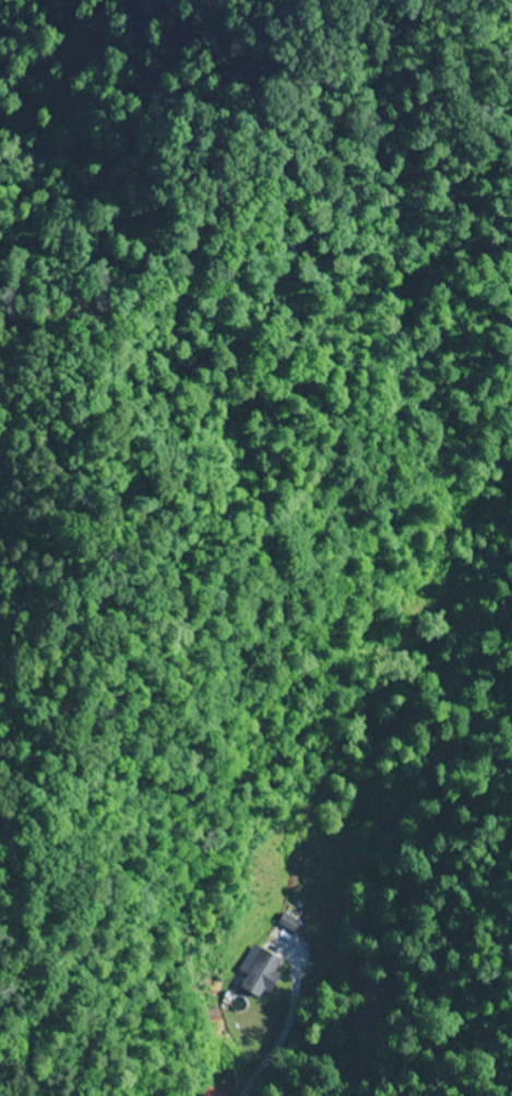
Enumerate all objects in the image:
building: (258, 973)
building: (213, 1093)

